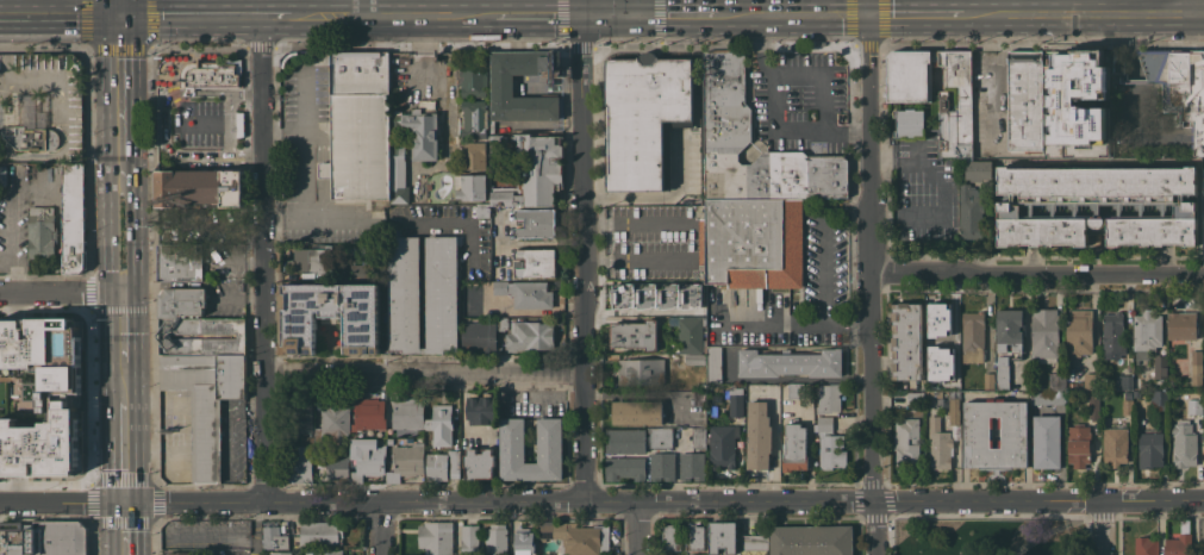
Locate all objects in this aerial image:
road: (642, 5)
road: (1196, 5)
road: (367, 6)
road: (547, 6)
road: (116, 7)
road: (198, 7)
road: (615, 11)
traffic signals: (865, 11)
road: (913, 11)
road: (1083, 11)
traffic signals: (576, 12)
road: (327, 14)
road: (58, 15)
traffic signals: (117, 15)
road: (202, 15)
road: (420, 44)
road: (766, 69)
road: (796, 71)
building: (207, 75)
building: (909, 75)
road: (990, 79)
building: (473, 80)
building: (1056, 81)
building: (1178, 83)
building: (500, 85)
building: (1092, 87)
building: (963, 100)
building: (1025, 100)
road: (824, 101)
road: (118, 108)
building: (473, 118)
building: (644, 118)
road: (164, 123)
building: (909, 123)
building: (30, 124)
road: (206, 124)
building: (726, 124)
road: (230, 126)
building: (360, 130)
road: (817, 130)
building: (412, 143)
building: (473, 155)
building: (956, 158)
road: (1097, 161)
building: (24, 168)
building: (529, 168)
building: (977, 169)
building: (1203, 170)
building: (2, 175)
building: (469, 186)
building: (199, 187)
road: (938, 189)
building: (1097, 205)
building: (482, 210)
road: (844, 211)
building: (969, 212)
building: (74, 217)
road: (8, 218)
building: (535, 223)
building: (42, 232)
building: (751, 242)
road: (119, 245)
building: (362, 249)
road: (578, 256)
building: (313, 258)
road: (263, 260)
building: (179, 262)
building: (535, 262)
road: (824, 268)
building: (361, 272)
road: (1035, 272)
building: (501, 273)
road: (867, 282)
road: (60, 289)
building: (525, 293)
building: (640, 293)
building: (403, 295)
building: (181, 301)
building: (695, 308)
building: (329, 316)
building: (501, 323)
road: (793, 323)
road: (120, 324)
building: (1181, 325)
building: (1009, 331)
building: (937, 332)
building: (1078, 332)
building: (1203, 332)
building: (479, 333)
building: (634, 333)
building: (687, 333)
building: (1044, 333)
building: (1113, 333)
building: (1146, 333)
building: (529, 335)
building: (202, 336)
building: (972, 336)
building: (906, 341)
building: (1171, 344)
building: (43, 353)
building: (694, 358)
building: (790, 363)
building: (940, 363)
building: (713, 364)
building: (1160, 366)
building: (1196, 367)
building: (641, 370)
road: (422, 373)
building: (1002, 373)
road: (120, 381)
building: (950, 381)
building: (987, 381)
building: (1056, 381)
building: (1091, 381)
building: (1124, 382)
building: (1074, 385)
building: (1136, 386)
building: (794, 389)
building: (932, 393)
building: (1137, 393)
building: (1048, 397)
building: (715, 398)
building: (828, 398)
building: (913, 398)
building: (1160, 399)
building: (734, 400)
building: (1193, 401)
building: (1127, 405)
building: (953, 406)
building: (1093, 406)
building: (480, 409)
building: (713, 410)
building: (637, 412)
building: (406, 414)
building: (369, 418)
building: (305, 419)
building: (823, 423)
building: (332, 424)
building: (441, 424)
building: (978, 434)
building: (757, 436)
building: (660, 437)
building: (698, 437)
building: (511, 439)
building: (907, 439)
building: (389, 441)
building: (625, 441)
building: (1046, 442)
building: (39, 443)
building: (1183, 443)
building: (940, 444)
building: (722, 445)
building: (1078, 445)
building: (1115, 445)
building: (794, 448)
building: (1149, 449)
building: (831, 451)
road: (120, 453)
building: (367, 457)
building: (405, 461)
building: (478, 463)
building: (442, 464)
building: (298, 466)
building: (661, 466)
building: (691, 466)
building: (337, 467)
building: (624, 467)
road: (601, 501)
traffic signals: (121, 504)
road: (635, 528)
road: (1062, 528)
road: (1104, 528)
road: (121, 529)
road: (254, 529)
road: (380, 529)
building: (320, 534)
building: (722, 536)
building: (43, 537)
building: (273, 537)
building: (435, 537)
building: (578, 537)
building: (670, 537)
building: (693, 537)
park: (991, 537)
building: (469, 540)
building: (495, 540)
building: (811, 540)
building: (523, 542)
building: (754, 542)
building: (1178, 544)
building: (1144, 545)
building: (325, 551)
building: (180, 553)
building: (277, 553)
building: (1203, 553)

